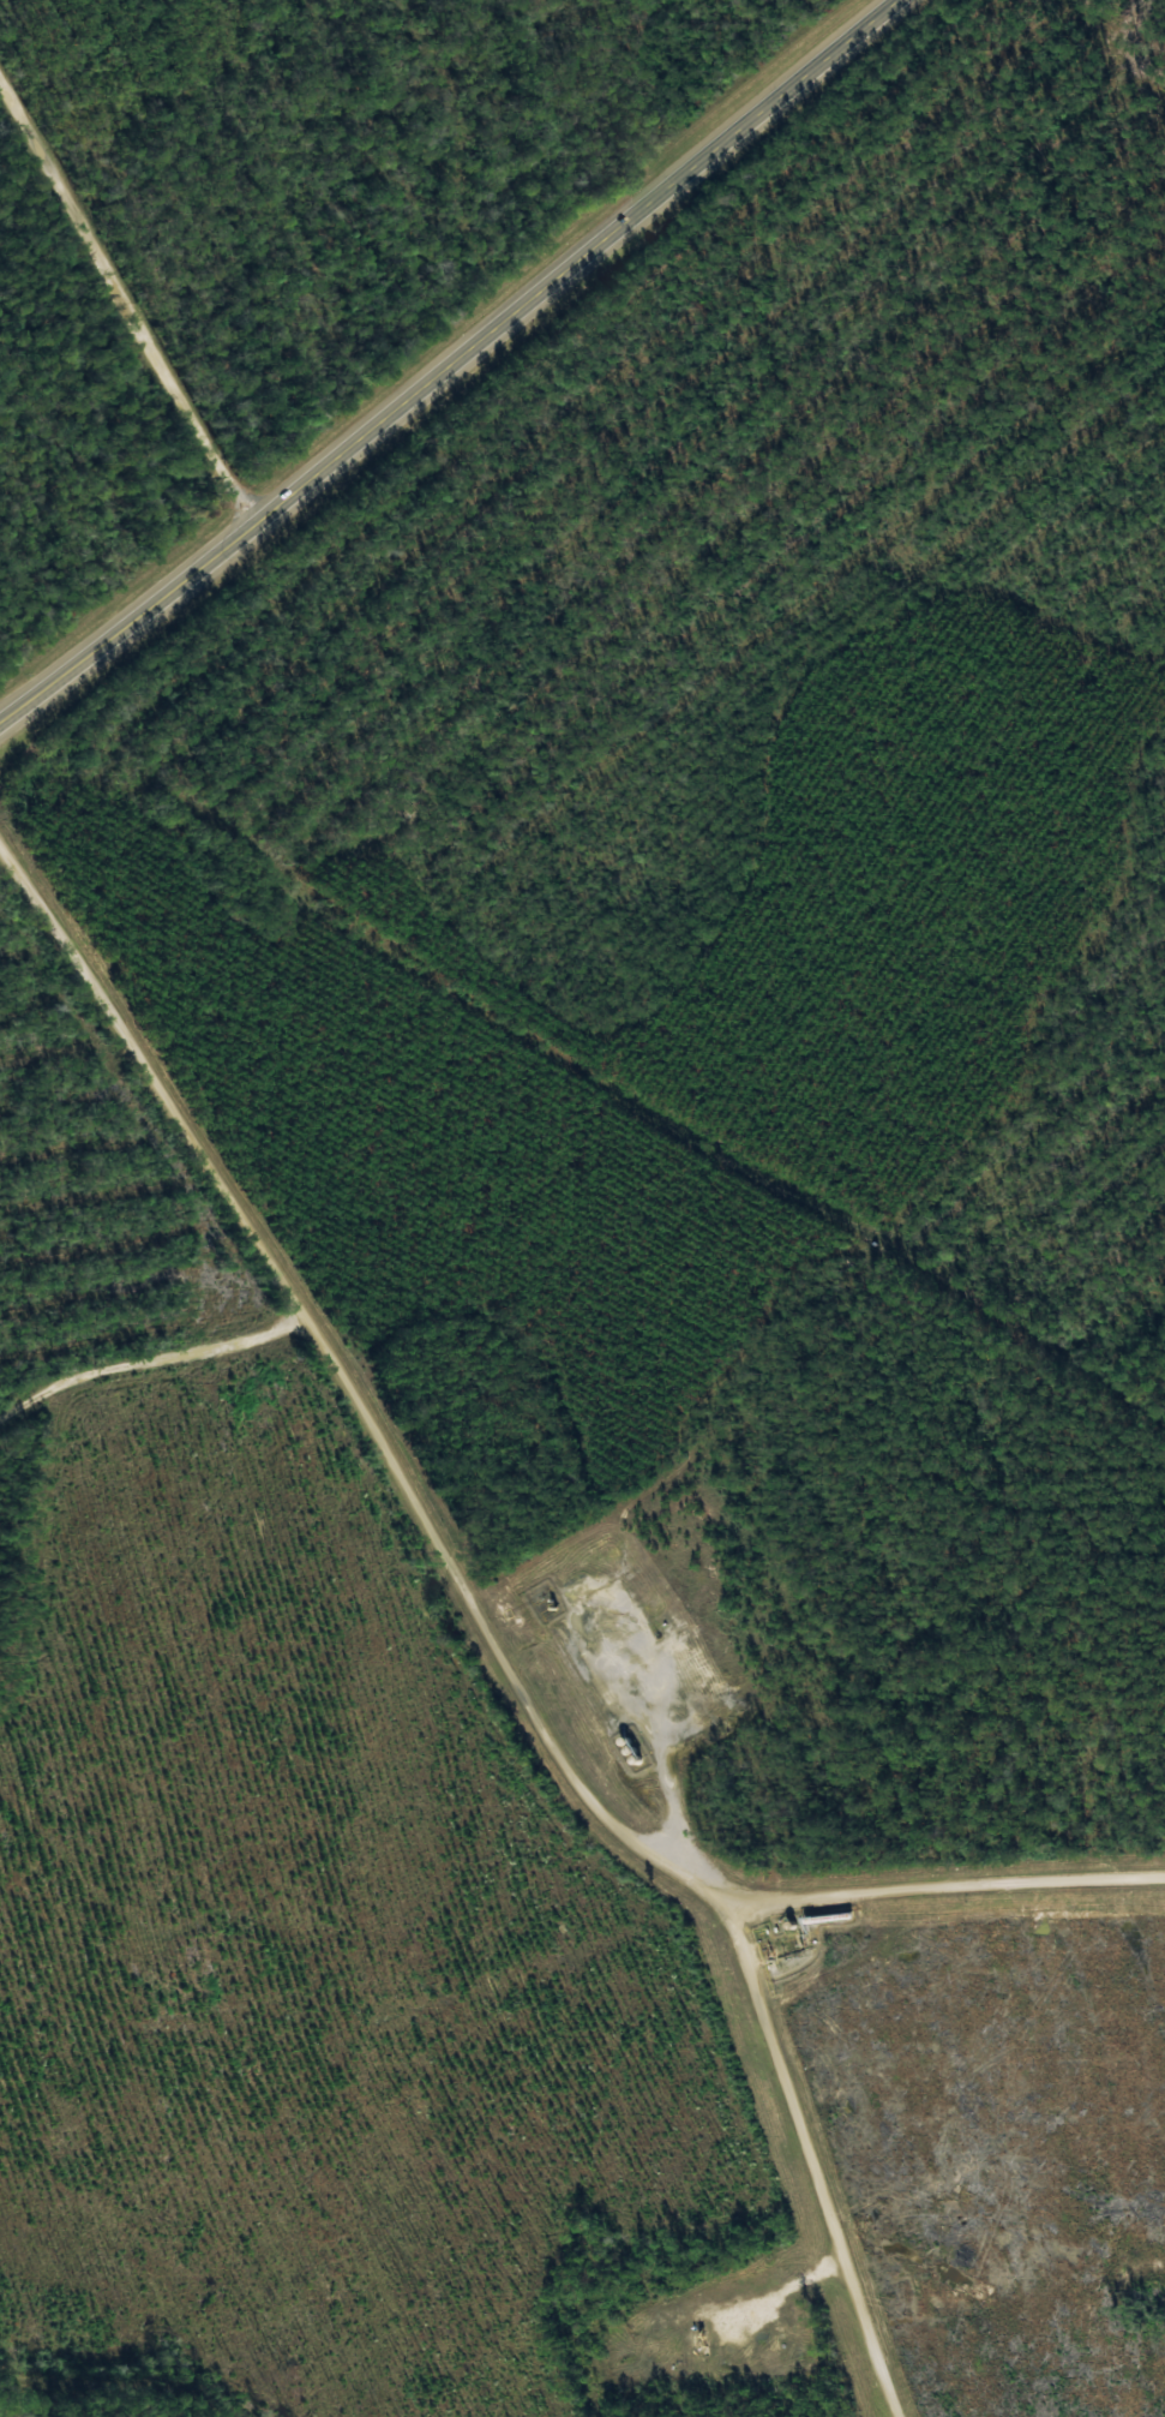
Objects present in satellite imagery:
road: (143, 267)
road: (472, 373)
road: (461, 1552)
road: (821, 2167)

